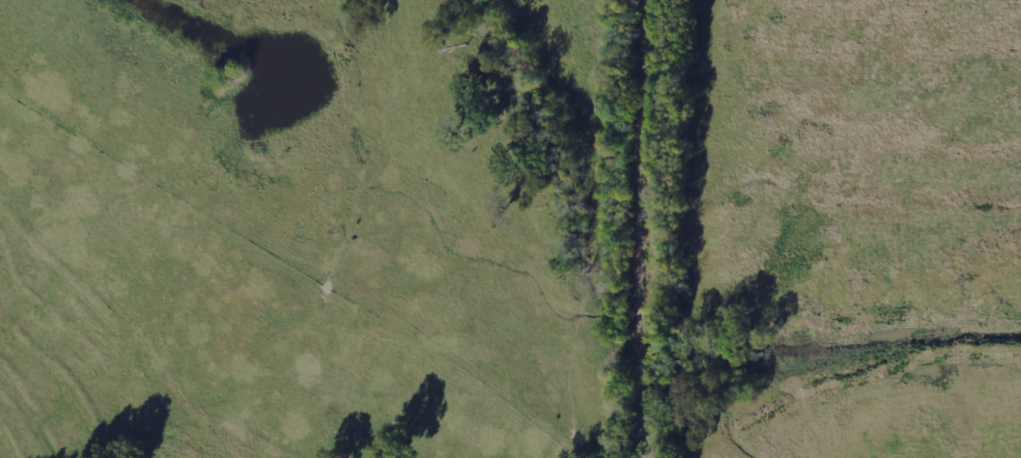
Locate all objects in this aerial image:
road: (653, 228)

